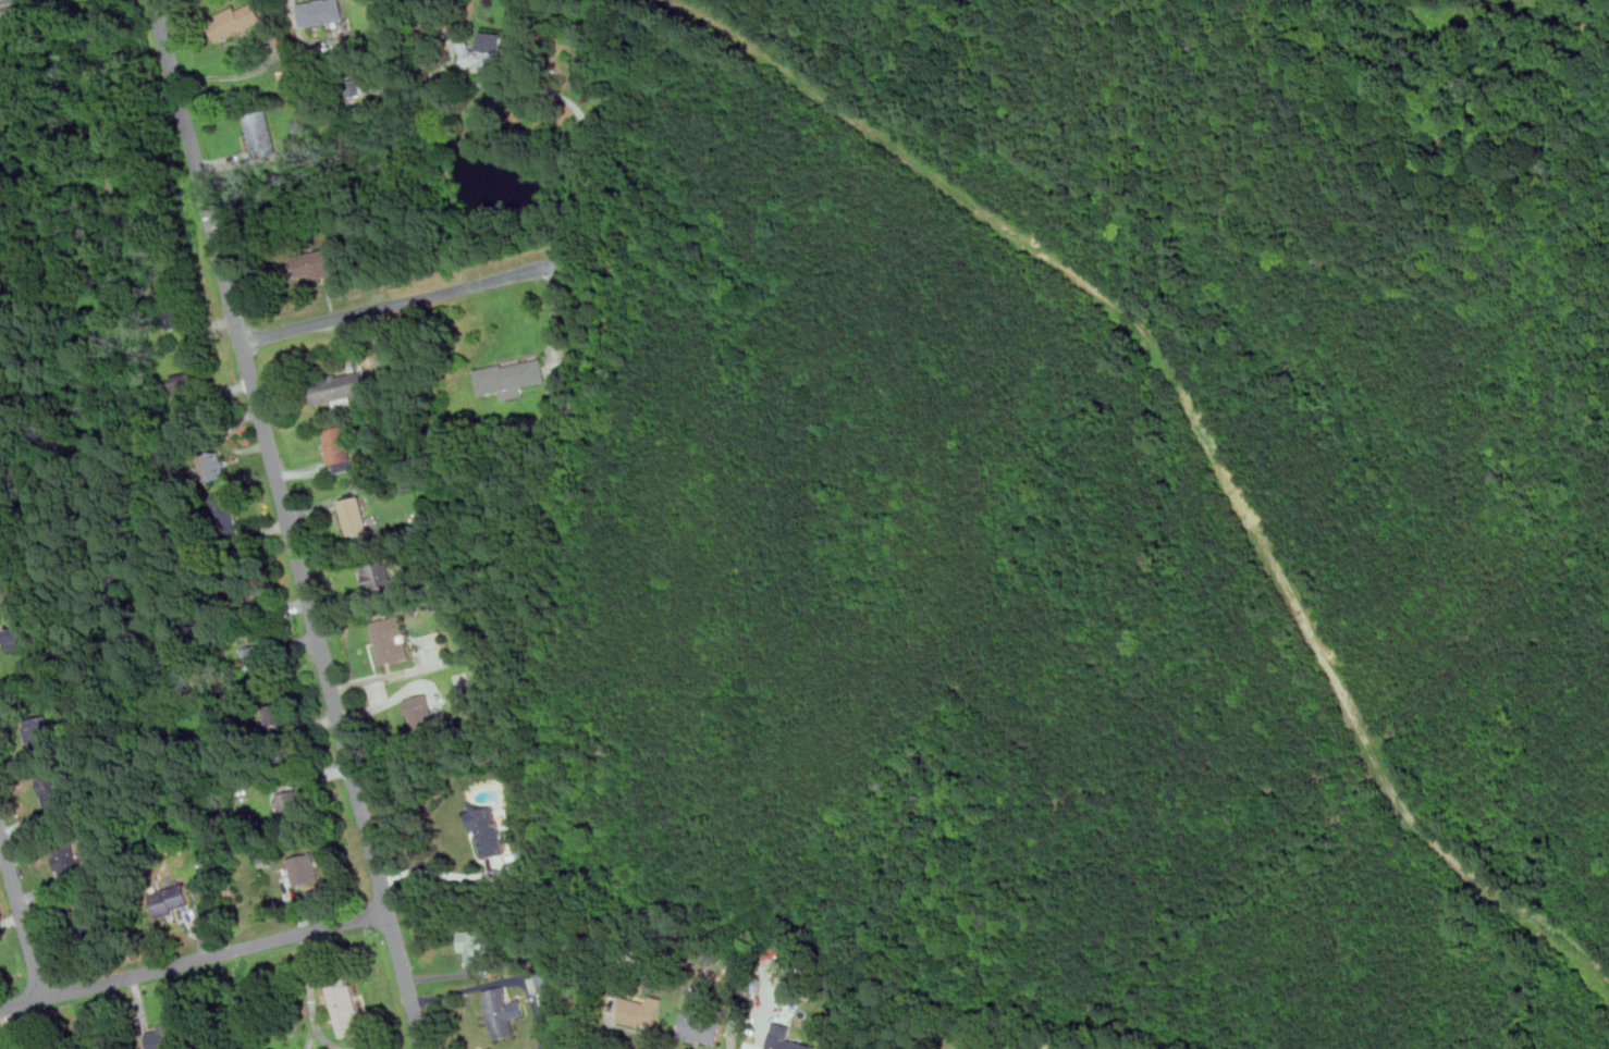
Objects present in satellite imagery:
road: (11, 2)
building: (322, 12)
building: (236, 21)
building: (486, 52)
building: (359, 86)
building: (262, 134)
road: (591, 139)
building: (323, 263)
road: (404, 301)
building: (174, 308)
road: (555, 317)
building: (509, 378)
building: (188, 381)
building: (337, 386)
building: (339, 447)
building: (212, 466)
building: (229, 513)
building: (356, 517)
road: (291, 523)
building: (379, 572)
building: (242, 588)
building: (8, 592)
building: (21, 637)
building: (392, 639)
building: (434, 639)
building: (260, 664)
building: (421, 713)
building: (279, 714)
building: (39, 730)
building: (52, 789)
building: (291, 803)
building: (487, 829)
building: (66, 861)
building: (305, 868)
road: (434, 874)
building: (172, 899)
road: (23, 913)
building: (88, 921)
building: (475, 946)
road: (194, 960)
building: (549, 978)
building: (793, 988)
building: (346, 1005)
building: (642, 1011)
building: (500, 1012)
building: (701, 1025)
building: (163, 1036)
building: (786, 1044)
road: (1114, 1048)

